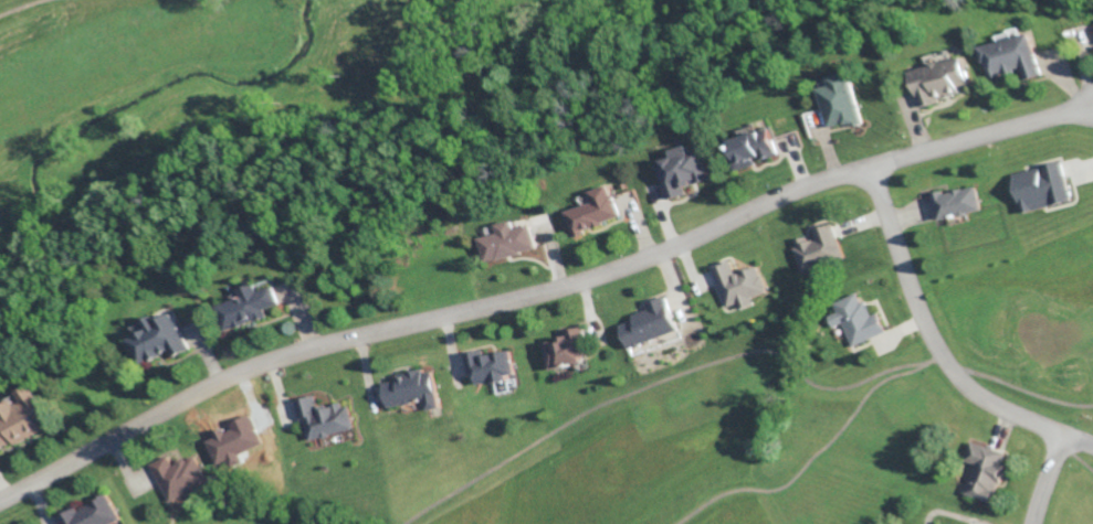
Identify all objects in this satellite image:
building: (1010, 56)
building: (939, 78)
building: (841, 99)
building: (749, 147)
building: (682, 170)
building: (1041, 185)
building: (954, 201)
building: (593, 210)
road: (1069, 223)
building: (506, 240)
building: (816, 244)
building: (738, 284)
road: (539, 288)
building: (246, 306)
building: (855, 319)
building: (648, 322)
building: (157, 338)
road: (937, 343)
building: (566, 347)
building: (490, 364)
building: (411, 388)
building: (20, 416)
building: (324, 417)
building: (984, 470)
building: (177, 474)
road: (1052, 479)
building: (91, 512)

